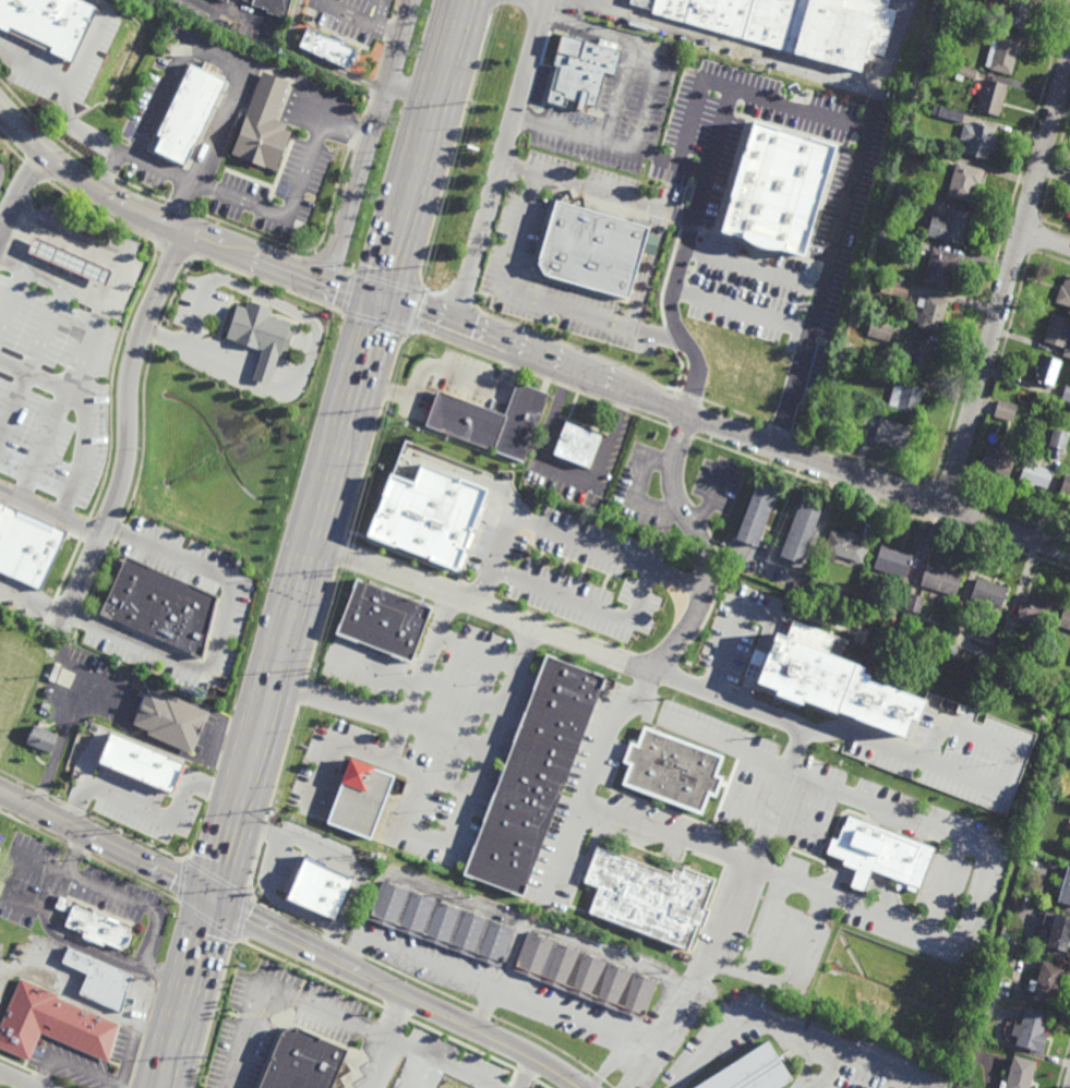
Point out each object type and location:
road: (548, 0)
building: (226, 1)
building: (274, 7)
building: (1015, 13)
road: (357, 17)
building: (49, 24)
building: (792, 25)
building: (239, 28)
building: (975, 33)
road: (93, 40)
building: (327, 48)
building: (1003, 57)
road: (34, 70)
building: (585, 72)
road: (177, 73)
building: (967, 74)
road: (411, 89)
road: (233, 98)
building: (994, 99)
road: (645, 101)
power tower: (471, 107)
building: (188, 113)
building: (264, 128)
road: (368, 138)
building: (981, 142)
road: (502, 162)
road: (110, 169)
road: (681, 169)
building: (965, 182)
road: (110, 189)
building: (777, 189)
road: (17, 190)
building: (902, 193)
road: (227, 197)
road: (841, 221)
building: (887, 221)
building: (952, 223)
building: (885, 235)
road: (1046, 240)
building: (592, 249)
road: (686, 255)
building: (70, 259)
gas station: (70, 259)
building: (941, 266)
road: (755, 269)
road: (310, 271)
power tower: (424, 271)
road: (52, 279)
road: (1007, 283)
building: (895, 287)
building: (1063, 292)
road: (12, 295)
road: (539, 298)
traffic signals: (382, 300)
road: (717, 300)
building: (930, 312)
building: (882, 313)
road: (95, 324)
building: (880, 329)
building: (1057, 330)
building: (261, 335)
road: (194, 346)
building: (1067, 352)
building: (922, 355)
road: (34, 363)
building: (1047, 370)
road: (441, 374)
road: (694, 375)
building: (834, 391)
building: (1066, 394)
building: (905, 398)
power tower: (386, 407)
building: (1005, 411)
road: (555, 412)
road: (83, 420)
building: (493, 420)
road: (122, 421)
road: (725, 425)
building: (1062, 427)
road: (612, 433)
building: (892, 433)
building: (1059, 438)
building: (579, 445)
road: (339, 449)
building: (997, 461)
road: (569, 467)
building: (1035, 474)
building: (1066, 485)
road: (710, 496)
building: (756, 512)
road: (48, 516)
building: (428, 519)
building: (801, 529)
road: (563, 540)
building: (844, 546)
building: (26, 547)
building: (891, 563)
power tower: (340, 571)
building: (941, 579)
building: (988, 593)
building: (898, 597)
building: (852, 599)
building: (915, 603)
road: (577, 606)
building: (163, 607)
building: (1034, 609)
road: (481, 613)
building: (959, 617)
building: (1065, 618)
building: (385, 619)
building: (1009, 629)
building: (1007, 644)
road: (729, 648)
road: (665, 656)
road: (426, 662)
road: (212, 668)
power tower: (309, 675)
building: (843, 678)
building: (45, 706)
road: (382, 717)
building: (172, 721)
road: (64, 732)
building: (41, 739)
road: (796, 746)
road: (389, 759)
road: (907, 759)
building: (140, 763)
building: (1069, 764)
building: (86, 770)
building: (673, 771)
building: (536, 777)
building: (1047, 789)
road: (1, 795)
building: (360, 798)
power tower: (273, 807)
road: (749, 808)
road: (464, 813)
road: (155, 817)
road: (107, 846)
building: (880, 854)
building: (320, 888)
road: (269, 892)
building: (1066, 892)
power tower: (249, 893)
building: (649, 897)
traffic signals: (215, 900)
building: (1014, 903)
road: (142, 904)
road: (974, 904)
road: (491, 914)
building: (441, 923)
road: (765, 927)
building: (96, 928)
building: (1060, 932)
road: (721, 936)
road: (361, 976)
building: (585, 976)
building: (100, 979)
building: (1047, 979)
road: (502, 980)
road: (793, 980)
road: (67, 989)
road: (272, 990)
road: (189, 994)
road: (503, 996)
road: (143, 1008)
road: (749, 1021)
building: (53, 1024)
building: (1033, 1027)
road: (381, 1041)
road: (130, 1054)
power tower: (205, 1057)
building: (302, 1060)
road: (440, 1063)
road: (608, 1065)
road: (544, 1066)
road: (75, 1067)
building: (749, 1071)
road: (522, 1073)
building: (1019, 1073)
road: (20, 1079)

